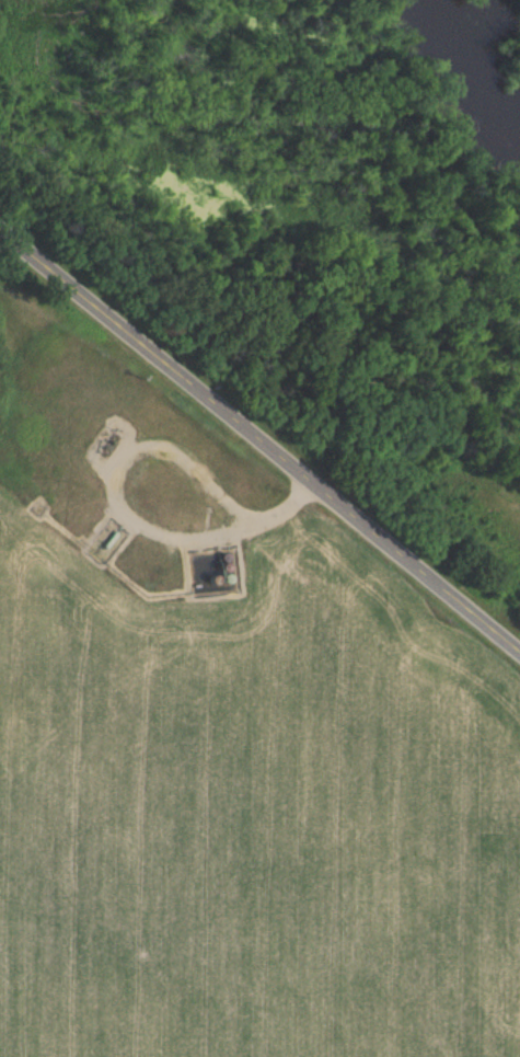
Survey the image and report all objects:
river: (475, 65)
road: (259, 437)

